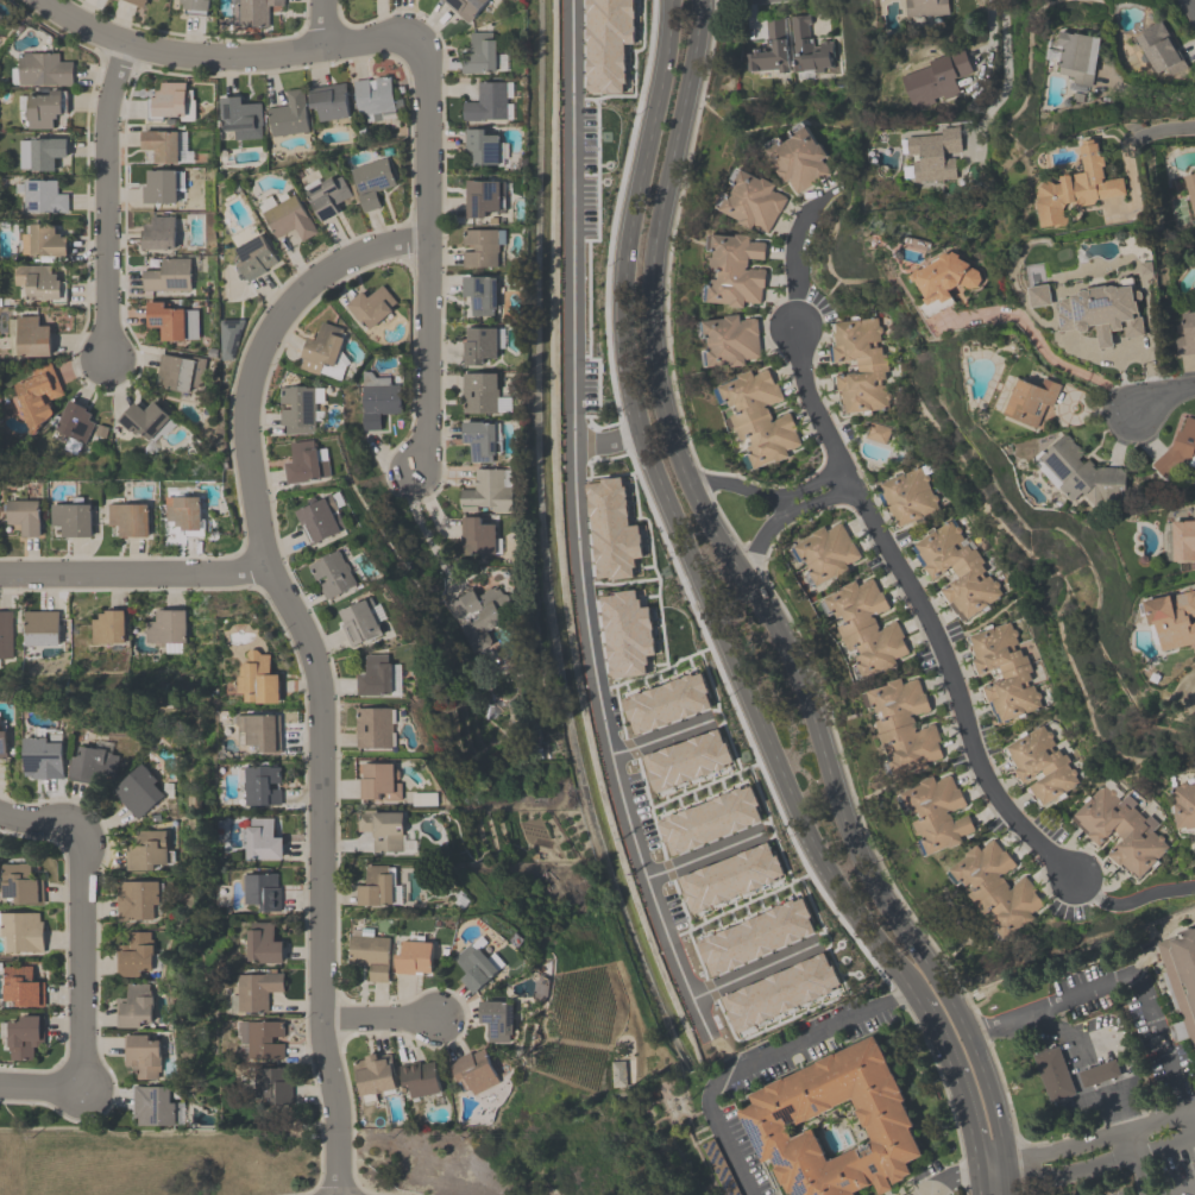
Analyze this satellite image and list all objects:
building: (156, 0)
building: (138, 2)
building: (195, 6)
road: (1191, 6)
building: (465, 7)
building: (924, 7)
building: (256, 12)
road: (322, 23)
road: (992, 31)
building: (805, 45)
building: (771, 48)
building: (1159, 48)
building: (479, 52)
building: (1078, 55)
road: (229, 56)
building: (43, 69)
building: (933, 77)
road: (1006, 77)
building: (373, 98)
building: (328, 100)
building: (170, 101)
building: (489, 101)
building: (43, 108)
building: (288, 113)
building: (240, 117)
road: (1134, 139)
building: (161, 144)
building: (483, 147)
building: (40, 152)
building: (932, 155)
building: (799, 157)
building: (372, 181)
building: (161, 184)
building: (1076, 187)
building: (1190, 190)
building: (43, 195)
building: (327, 195)
building: (482, 196)
building: (751, 199)
road: (106, 201)
building: (287, 215)
building: (158, 233)
building: (43, 240)
building: (482, 246)
road: (794, 252)
building: (254, 257)
road: (427, 258)
building: (734, 270)
building: (168, 275)
building: (946, 276)
building: (40, 282)
building: (482, 293)
building: (1039, 295)
building: (371, 306)
building: (1102, 310)
building: (172, 321)
building: (1185, 334)
building: (29, 337)
building: (228, 337)
building: (730, 339)
building: (479, 344)
building: (325, 352)
building: (860, 364)
building: (180, 371)
building: (479, 391)
building: (38, 394)
road: (1162, 394)
building: (377, 398)
building: (1030, 400)
building: (300, 407)
building: (755, 417)
building: (145, 420)
building: (74, 426)
building: (876, 433)
building: (480, 440)
road: (606, 440)
building: (1178, 447)
building: (306, 463)
building: (1078, 471)
road: (813, 483)
road: (731, 484)
building: (486, 491)
building: (908, 496)
road: (785, 501)
building: (184, 510)
road: (784, 511)
building: (25, 515)
road: (674, 516)
building: (71, 517)
building: (130, 517)
building: (320, 517)
building: (611, 528)
road: (424, 534)
building: (477, 535)
road: (580, 535)
building: (1183, 540)
building: (826, 552)
building: (958, 566)
road: (131, 571)
building: (333, 573)
road: (763, 609)
road: (923, 609)
building: (479, 614)
building: (1172, 618)
building: (359, 621)
building: (108, 625)
building: (867, 625)
building: (40, 627)
building: (165, 627)
building: (627, 633)
building: (6, 634)
road: (312, 658)
building: (1005, 671)
building: (375, 675)
building: (257, 678)
building: (666, 702)
building: (373, 725)
building: (905, 725)
building: (259, 730)
building: (2, 742)
building: (43, 757)
building: (686, 760)
building: (1042, 763)
building: (93, 766)
building: (378, 781)
building: (262, 784)
building: (138, 790)
building: (423, 798)
building: (1184, 805)
building: (936, 811)
building: (709, 819)
building: (382, 829)
building: (1122, 829)
building: (263, 839)
building: (146, 850)
road: (693, 858)
building: (729, 875)
building: (21, 882)
building: (376, 885)
building: (999, 886)
building: (263, 891)
building: (136, 899)
road: (1131, 899)
road: (81, 916)
building: (23, 931)
building: (755, 935)
building: (264, 943)
building: (370, 952)
building: (134, 955)
building: (414, 955)
building: (474, 967)
road: (750, 973)
building: (1180, 979)
road: (1121, 982)
building: (21, 986)
building: (257, 990)
building: (779, 990)
building: (133, 1005)
building: (496, 1019)
road: (378, 1023)
building: (23, 1036)
building: (265, 1039)
building: (141, 1055)
road: (756, 1057)
building: (473, 1071)
road: (956, 1074)
building: (372, 1075)
building: (1068, 1075)
gas station: (1068, 1075)
building: (419, 1077)
building: (276, 1084)
road: (40, 1086)
building: (152, 1105)
road: (1194, 1120)
road: (1190, 1122)
building: (834, 1124)
road: (1130, 1141)
parking lot: (1162, 1166)
road: (993, 1170)
road: (1139, 1174)
road: (954, 1177)
road: (980, 1183)
road: (1185, 1191)

